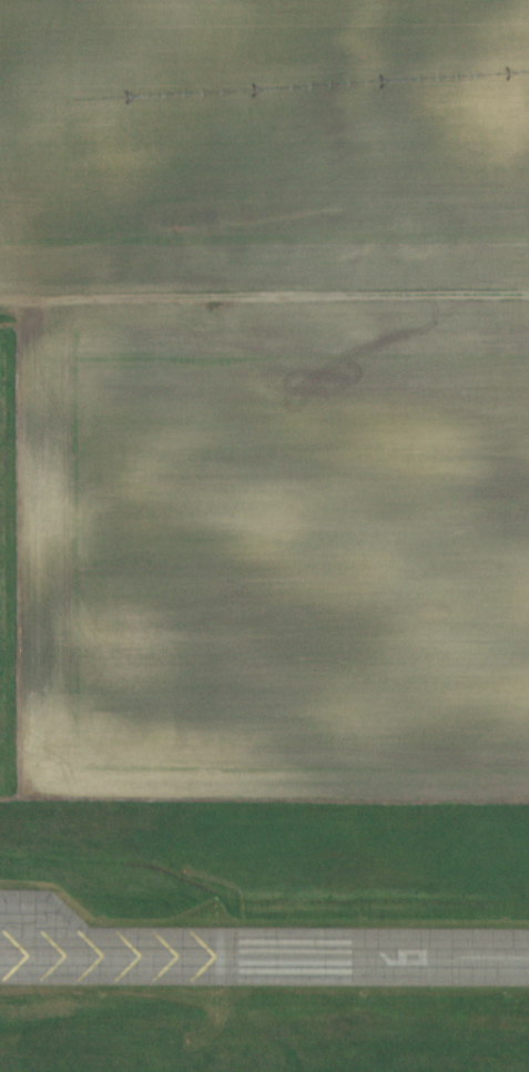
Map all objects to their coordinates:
airport runway: (267, 954)

